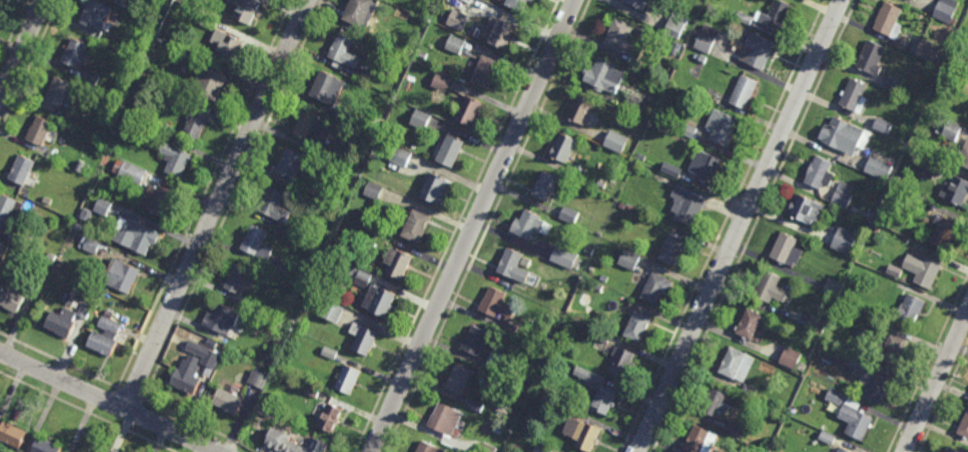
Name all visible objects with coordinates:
building: (135, 3)
building: (521, 4)
building: (639, 4)
building: (762, 4)
building: (946, 9)
building: (249, 11)
building: (360, 12)
building: (776, 15)
building: (97, 16)
building: (743, 18)
building: (458, 19)
building: (887, 21)
building: (675, 26)
road: (13, 30)
building: (506, 34)
building: (704, 36)
building: (622, 38)
building: (454, 43)
building: (228, 46)
building: (676, 46)
road: (22, 50)
building: (929, 50)
building: (344, 51)
building: (753, 51)
building: (76, 53)
building: (422, 54)
building: (701, 58)
building: (869, 58)
road: (28, 63)
building: (171, 63)
building: (487, 71)
building: (363, 75)
building: (90, 77)
building: (606, 78)
building: (440, 80)
building: (731, 81)
building: (892, 83)
building: (210, 85)
building: (964, 85)
building: (328, 88)
building: (59, 91)
building: (744, 94)
building: (851, 97)
building: (636, 104)
building: (469, 110)
building: (582, 110)
building: (129, 111)
building: (347, 114)
building: (419, 119)
building: (883, 125)
building: (196, 126)
building: (311, 127)
building: (722, 128)
building: (950, 128)
building: (686, 130)
building: (41, 131)
building: (841, 136)
building: (615, 141)
building: (565, 148)
building: (451, 150)
building: (327, 152)
building: (962, 155)
building: (400, 156)
building: (641, 157)
building: (581, 158)
building: (178, 161)
building: (290, 165)
building: (930, 165)
building: (706, 166)
building: (879, 168)
building: (23, 170)
building: (671, 170)
building: (86, 171)
building: (130, 171)
building: (817, 173)
building: (362, 185)
building: (546, 186)
building: (437, 188)
building: (893, 188)
building: (373, 190)
building: (953, 192)
road: (205, 194)
building: (842, 194)
building: (889, 198)
road: (234, 199)
building: (332, 199)
building: (47, 200)
building: (158, 200)
road: (218, 205)
building: (622, 205)
building: (102, 206)
building: (276, 206)
building: (688, 206)
building: (630, 208)
building: (7, 210)
building: (805, 211)
building: (86, 214)
building: (357, 214)
building: (569, 214)
building: (531, 225)
building: (78, 226)
building: (418, 226)
road: (456, 226)
road: (475, 226)
road: (487, 226)
road: (723, 226)
road: (739, 226)
road: (755, 226)
building: (876, 230)
building: (943, 232)
building: (22, 236)
building: (135, 237)
building: (844, 240)
building: (258, 243)
building: (92, 246)
building: (2, 249)
building: (588, 250)
building: (342, 251)
building: (674, 251)
building: (788, 251)
building: (50, 257)
building: (564, 257)
building: (628, 260)
building: (60, 264)
building: (400, 264)
building: (516, 265)
building: (591, 268)
building: (284, 269)
building: (351, 270)
building: (920, 271)
building: (123, 276)
building: (363, 278)
building: (238, 279)
building: (0, 284)
building: (32, 284)
building: (598, 287)
building: (833, 287)
building: (660, 288)
building: (771, 289)
building: (12, 299)
building: (381, 301)
building: (498, 303)
building: (907, 310)
building: (86, 311)
building: (332, 312)
building: (223, 319)
building: (291, 321)
building: (63, 322)
building: (751, 324)
building: (817, 325)
building: (639, 327)
building: (106, 335)
building: (603, 338)
building: (365, 339)
building: (477, 341)
building: (212, 343)
building: (890, 351)
building: (329, 352)
building: (205, 354)
building: (791, 359)
road: (58, 360)
building: (623, 362)
building: (495, 363)
road: (928, 363)
building: (733, 364)
building: (190, 378)
building: (543, 378)
building: (259, 379)
building: (459, 380)
building: (349, 381)
road: (936, 382)
building: (872, 386)
building: (749, 390)
building: (313, 391)
road: (129, 393)
building: (834, 397)
road: (943, 397)
building: (607, 400)
road: (109, 401)
building: (230, 402)
road: (111, 404)
building: (717, 404)
building: (476, 405)
building: (560, 408)
building: (261, 411)
road: (86, 412)
road: (136, 415)
building: (331, 417)
building: (446, 419)
road: (197, 423)
building: (852, 423)
building: (962, 425)
building: (499, 429)
building: (735, 429)
building: (583, 433)
building: (14, 437)
building: (827, 437)
building: (280, 440)
building: (700, 441)
building: (48, 447)
building: (542, 447)
building: (750, 448)
building: (430, 449)
building: (486, 450)
building: (952, 450)
building: (839, 451)

